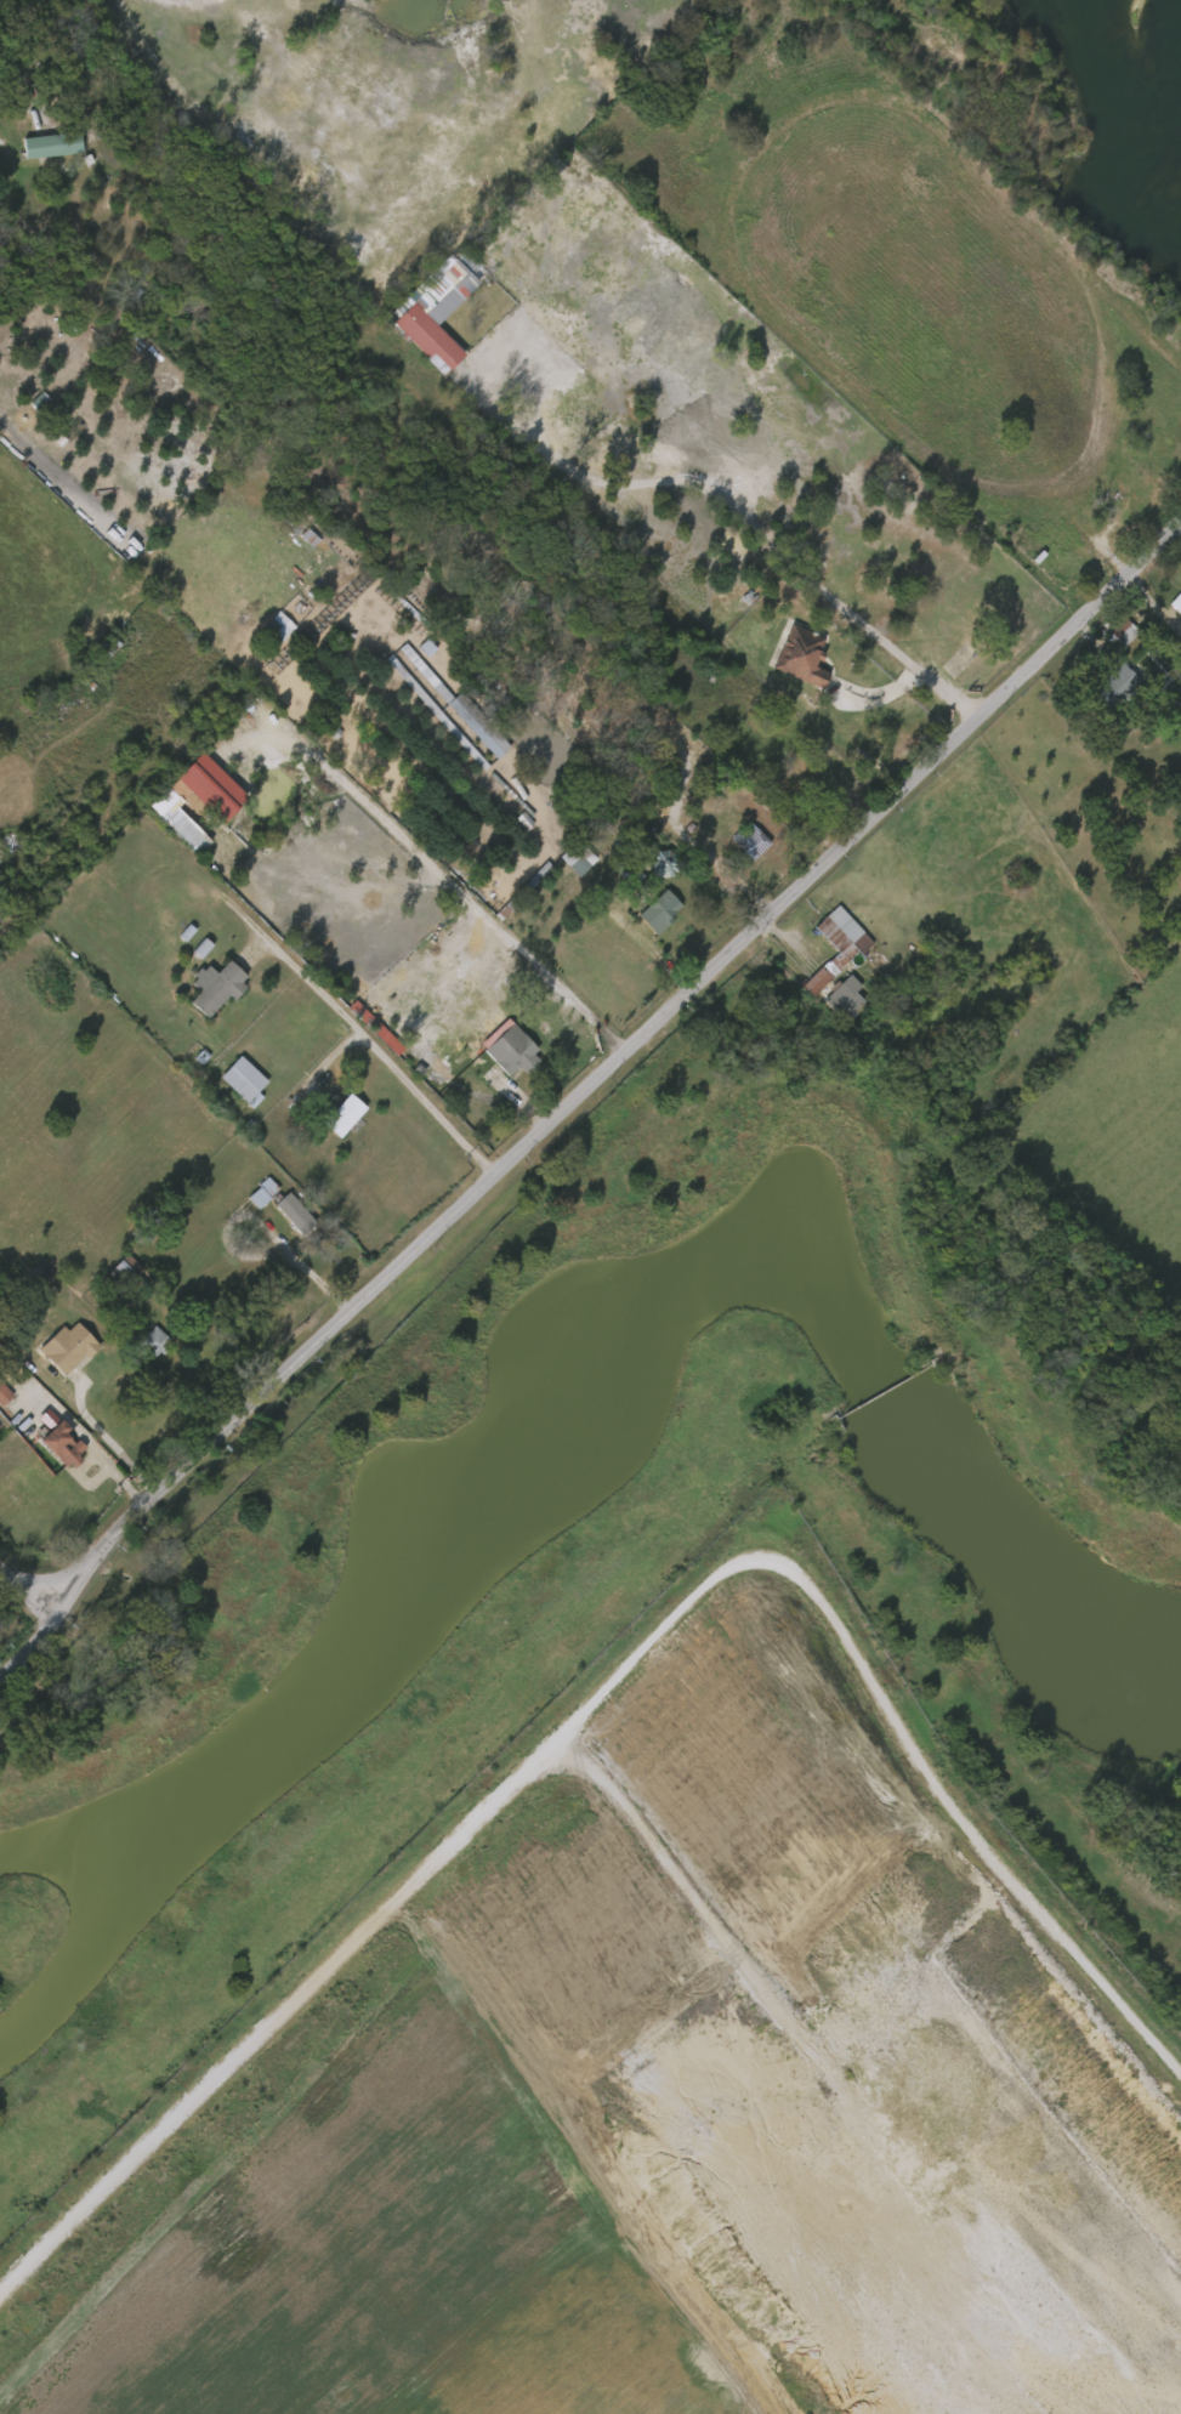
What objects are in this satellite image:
building: (13, 18)
building: (50, 146)
building: (413, 342)
building: (24, 405)
road: (732, 513)
building: (1164, 609)
building: (405, 610)
road: (1143, 615)
building: (278, 626)
building: (1119, 627)
building: (262, 631)
building: (785, 660)
building: (1115, 686)
building: (1098, 691)
building: (1173, 708)
building: (464, 709)
building: (437, 711)
building: (462, 729)
building: (612, 837)
building: (750, 841)
building: (734, 845)
building: (577, 857)
building: (561, 863)
building: (646, 867)
building: (526, 891)
building: (659, 910)
building: (645, 915)
building: (839, 948)
building: (821, 950)
building: (187, 952)
building: (200, 990)
building: (842, 996)
building: (828, 1002)
building: (510, 1050)
road: (360, 1055)
road: (617, 1060)
road: (308, 1067)
building: (212, 1077)
building: (343, 1115)
building: (329, 1119)
building: (261, 1192)
building: (246, 1197)
building: (294, 1212)
building: (280, 1219)
building: (129, 1273)
building: (108, 1274)
building: (23, 1280)
building: (154, 1341)
building: (140, 1345)
building: (67, 1347)
building: (2, 1395)
road: (107, 1439)
building: (58, 1443)
road: (23, 1595)
road: (24, 1629)
road: (609, 1696)
wastewater plant: (637, 1845)

